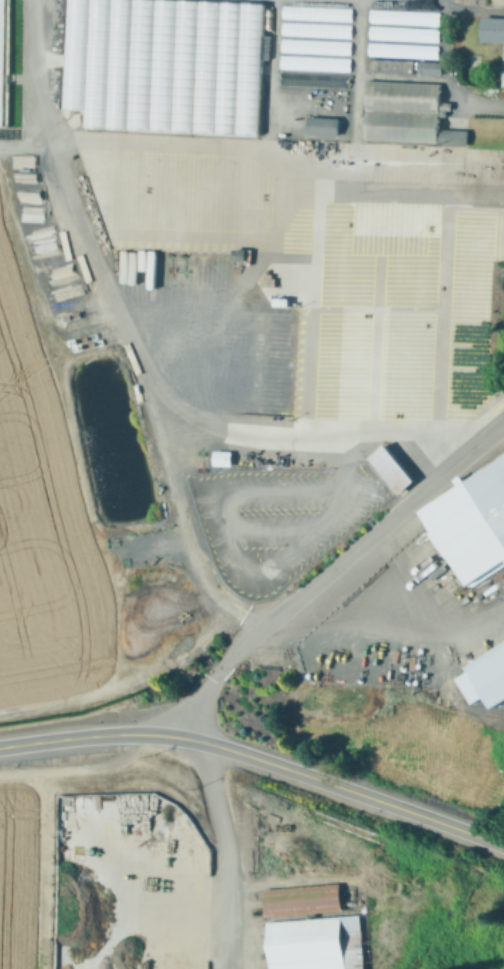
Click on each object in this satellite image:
building: (316, 14)
building: (403, 18)
building: (491, 29)
building: (316, 31)
building: (403, 35)
building: (315, 48)
building: (402, 52)
building: (3, 64)
building: (314, 65)
building: (166, 66)
building: (386, 68)
building: (429, 70)
building: (313, 82)
building: (503, 83)
building: (313, 99)
building: (379, 104)
building: (312, 115)
building: (330, 133)
building: (79, 317)
building: (224, 460)
building: (393, 471)
building: (473, 524)
road: (329, 571)
building: (485, 676)
road: (88, 737)
road: (341, 789)
road: (228, 856)
crop: (87, 873)
building: (303, 901)
building: (317, 944)

